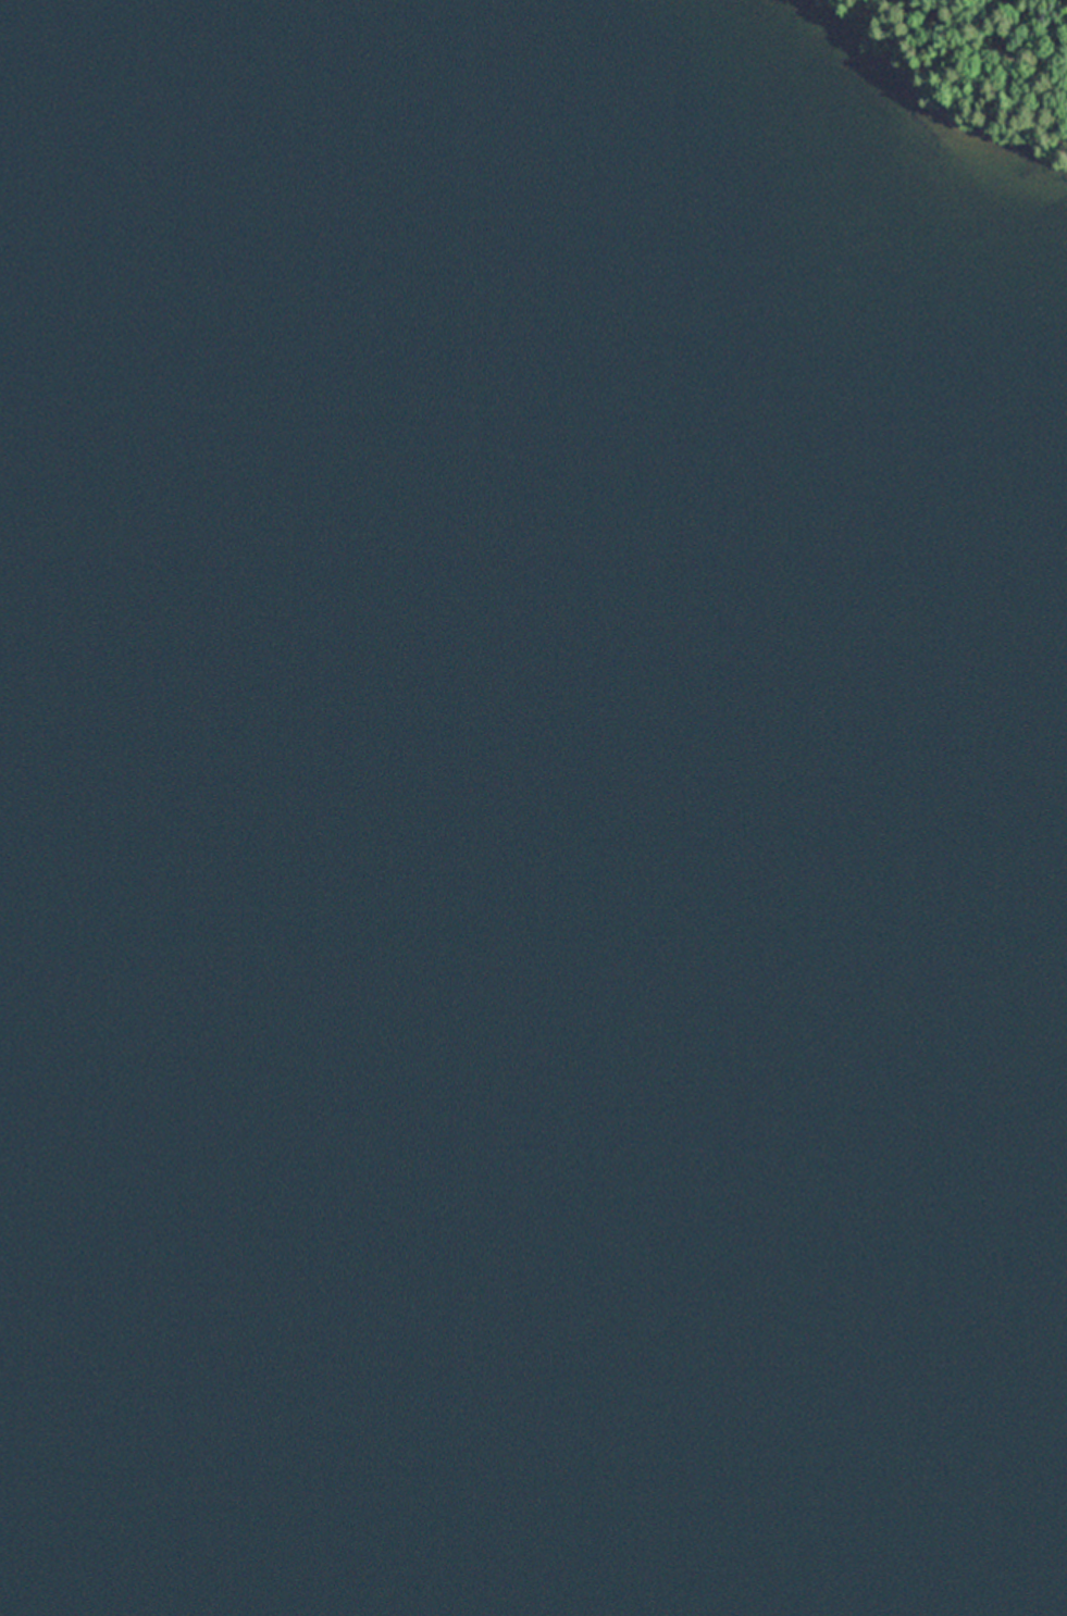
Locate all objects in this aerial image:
river: (529, 1533)

